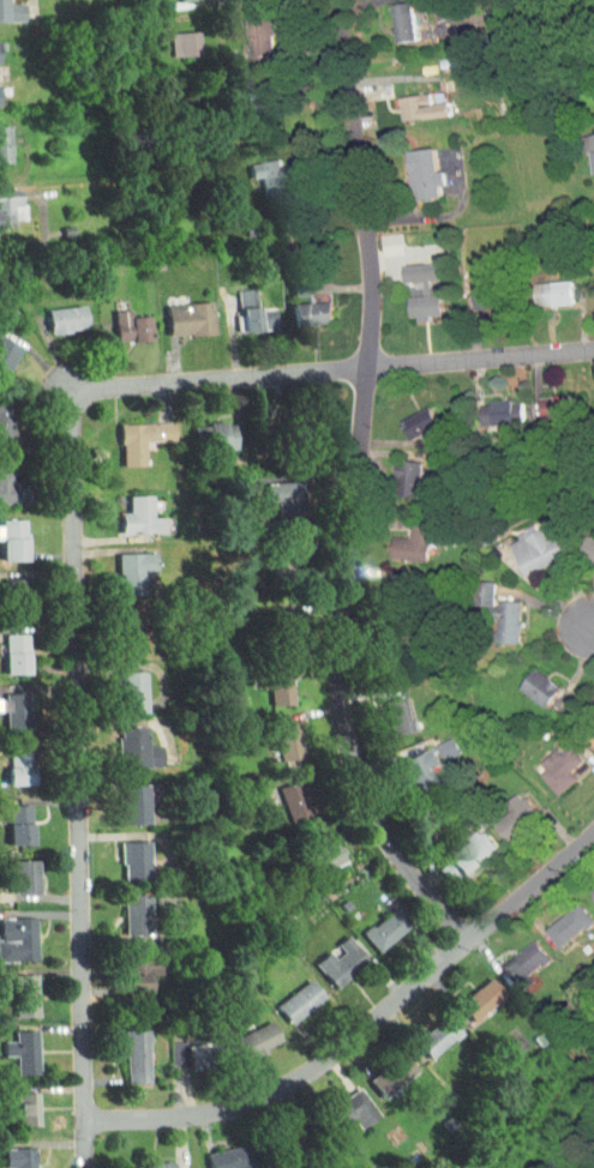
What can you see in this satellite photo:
building: (5, 6)
building: (388, 17)
building: (245, 29)
building: (172, 36)
building: (240, 85)
building: (406, 101)
building: (584, 144)
building: (252, 167)
building: (408, 167)
building: (2, 200)
building: (587, 279)
building: (408, 283)
building: (539, 287)
building: (469, 291)
building: (295, 307)
building: (50, 312)
building: (175, 312)
building: (244, 312)
building: (115, 320)
building: (1, 343)
building: (590, 396)
building: (539, 399)
building: (486, 405)
building: (404, 416)
building: (199, 428)
building: (127, 433)
building: (286, 433)
building: (392, 471)
road: (356, 488)
building: (268, 494)
building: (125, 508)
road: (76, 517)
building: (6, 534)
building: (397, 537)
building: (521, 542)
building: (580, 543)
building: (271, 549)
building: (120, 562)
building: (5, 591)
building: (6, 646)
building: (265, 679)
building: (524, 681)
building: (116, 685)
building: (593, 685)
building: (5, 706)
building: (592, 708)
building: (385, 709)
building: (274, 734)
building: (433, 741)
building: (122, 742)
building: (403, 760)
building: (6, 761)
building: (544, 763)
building: (281, 794)
building: (119, 797)
building: (498, 811)
building: (7, 818)
building: (310, 845)
building: (457, 847)
building: (119, 854)
building: (11, 871)
building: (587, 887)
building: (121, 908)
building: (553, 919)
building: (371, 923)
building: (10, 932)
building: (326, 955)
building: (510, 956)
building: (125, 967)
building: (11, 988)
building: (466, 993)
building: (284, 995)
road: (370, 1030)
building: (424, 1030)
building: (242, 1034)
building: (11, 1046)
building: (167, 1048)
building: (122, 1049)
building: (377, 1068)
building: (13, 1102)
building: (337, 1103)
building: (10, 1155)
building: (212, 1155)
building: (138, 1162)

